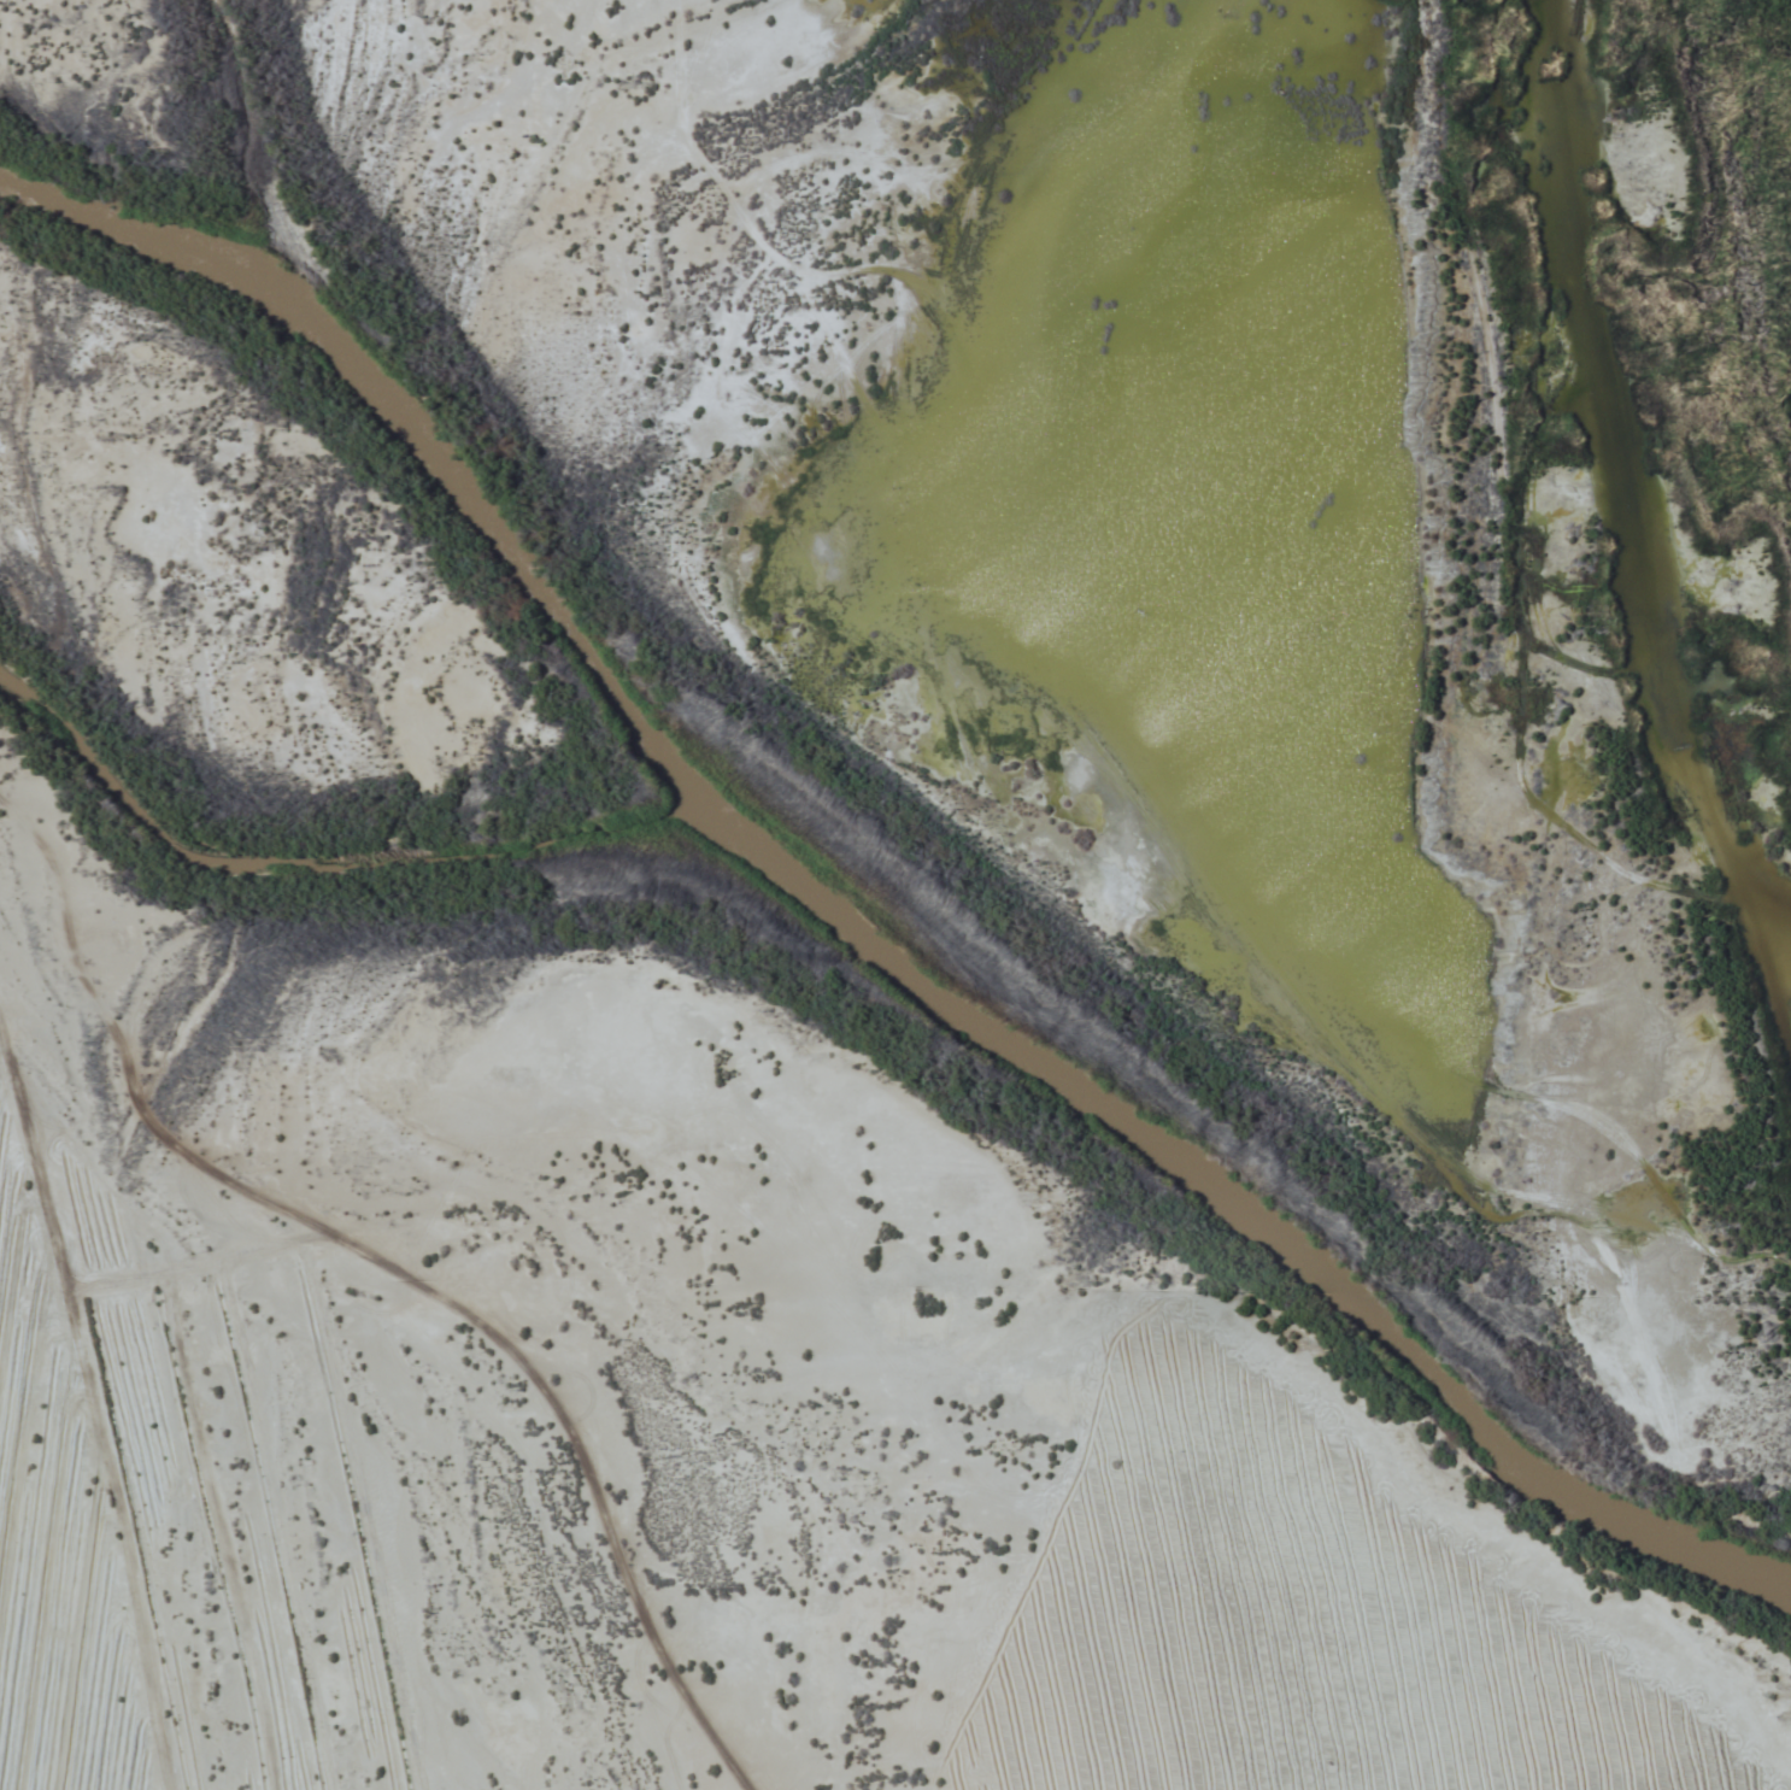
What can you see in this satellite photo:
river: (855, 912)

